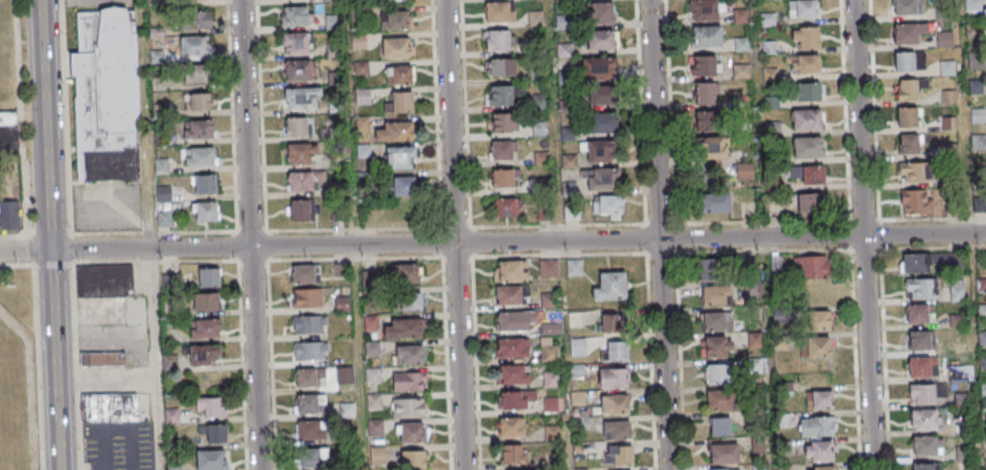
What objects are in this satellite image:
building: (397, 0)
building: (907, 7)
building: (802, 9)
building: (705, 10)
building: (499, 11)
building: (600, 14)
building: (985, 15)
building: (295, 16)
building: (768, 19)
building: (196, 20)
building: (395, 20)
building: (331, 22)
building: (907, 32)
building: (706, 36)
building: (804, 37)
building: (944, 39)
building: (496, 40)
building: (601, 41)
building: (295, 43)
building: (194, 45)
building: (395, 47)
building: (770, 47)
building: (909, 60)
building: (803, 64)
building: (704, 65)
building: (501, 67)
building: (599, 69)
building: (298, 70)
building: (741, 70)
building: (196, 73)
building: (769, 74)
building: (398, 75)
building: (909, 88)
building: (809, 92)
building: (704, 93)
building: (501, 96)
building: (600, 96)
building: (103, 98)
building: (300, 99)
building: (197, 102)
building: (400, 102)
building: (907, 117)
building: (978, 119)
building: (709, 120)
building: (806, 120)
road: (551, 121)
building: (503, 122)
building: (949, 123)
building: (602, 124)
road: (45, 125)
building: (295, 126)
building: (197, 129)
building: (539, 130)
building: (395, 131)
building: (9, 139)
building: (909, 144)
building: (711, 147)
building: (808, 148)
building: (501, 150)
building: (601, 152)
building: (301, 153)
building: (199, 156)
building: (400, 158)
building: (745, 170)
building: (914, 171)
building: (811, 175)
building: (503, 178)
building: (302, 180)
building: (602, 180)
building: (204, 183)
building: (402, 186)
building: (915, 202)
building: (715, 203)
building: (810, 204)
building: (506, 206)
building: (606, 206)
building: (299, 210)
building: (206, 211)
building: (9, 215)
building: (164, 219)
road: (454, 234)
road: (148, 235)
road: (249, 235)
road: (658, 235)
road: (862, 235)
road: (492, 242)
building: (914, 263)
building: (548, 267)
building: (574, 267)
building: (812, 267)
building: (707, 270)
building: (509, 271)
building: (304, 273)
building: (405, 273)
building: (208, 278)
building: (104, 280)
building: (610, 286)
building: (920, 288)
building: (957, 291)
building: (510, 295)
building: (715, 295)
building: (307, 298)
building: (410, 302)
building: (206, 303)
building: (342, 304)
building: (918, 313)
building: (515, 320)
building: (716, 321)
building: (817, 321)
building: (610, 324)
building: (309, 325)
building: (403, 328)
building: (205, 330)
building: (982, 337)
building: (754, 340)
building: (919, 340)
building: (716, 347)
building: (817, 347)
building: (513, 348)
building: (310, 352)
building: (549, 352)
building: (616, 353)
building: (408, 354)
building: (202, 356)
building: (101, 359)
road: (54, 360)
building: (922, 367)
building: (721, 373)
building: (511, 374)
building: (550, 378)
building: (612, 378)
building: (306, 379)
road: (105, 381)
building: (408, 381)
building: (923, 394)
building: (517, 398)
building: (961, 398)
building: (719, 399)
building: (819, 400)
building: (551, 404)
building: (614, 404)
building: (308, 405)
building: (109, 407)
building: (211, 407)
building: (408, 408)
building: (923, 419)
building: (720, 426)
building: (511, 427)
building: (815, 427)
building: (616, 430)
building: (310, 432)
building: (412, 433)
building: (216, 434)
road: (566, 442)
building: (926, 445)
building: (817, 451)
building: (723, 453)
building: (963, 453)
building: (513, 454)
building: (619, 455)
building: (309, 459)
building: (212, 460)
building: (413, 460)
building: (925, 466)
building: (820, 468)
building: (729, 469)

